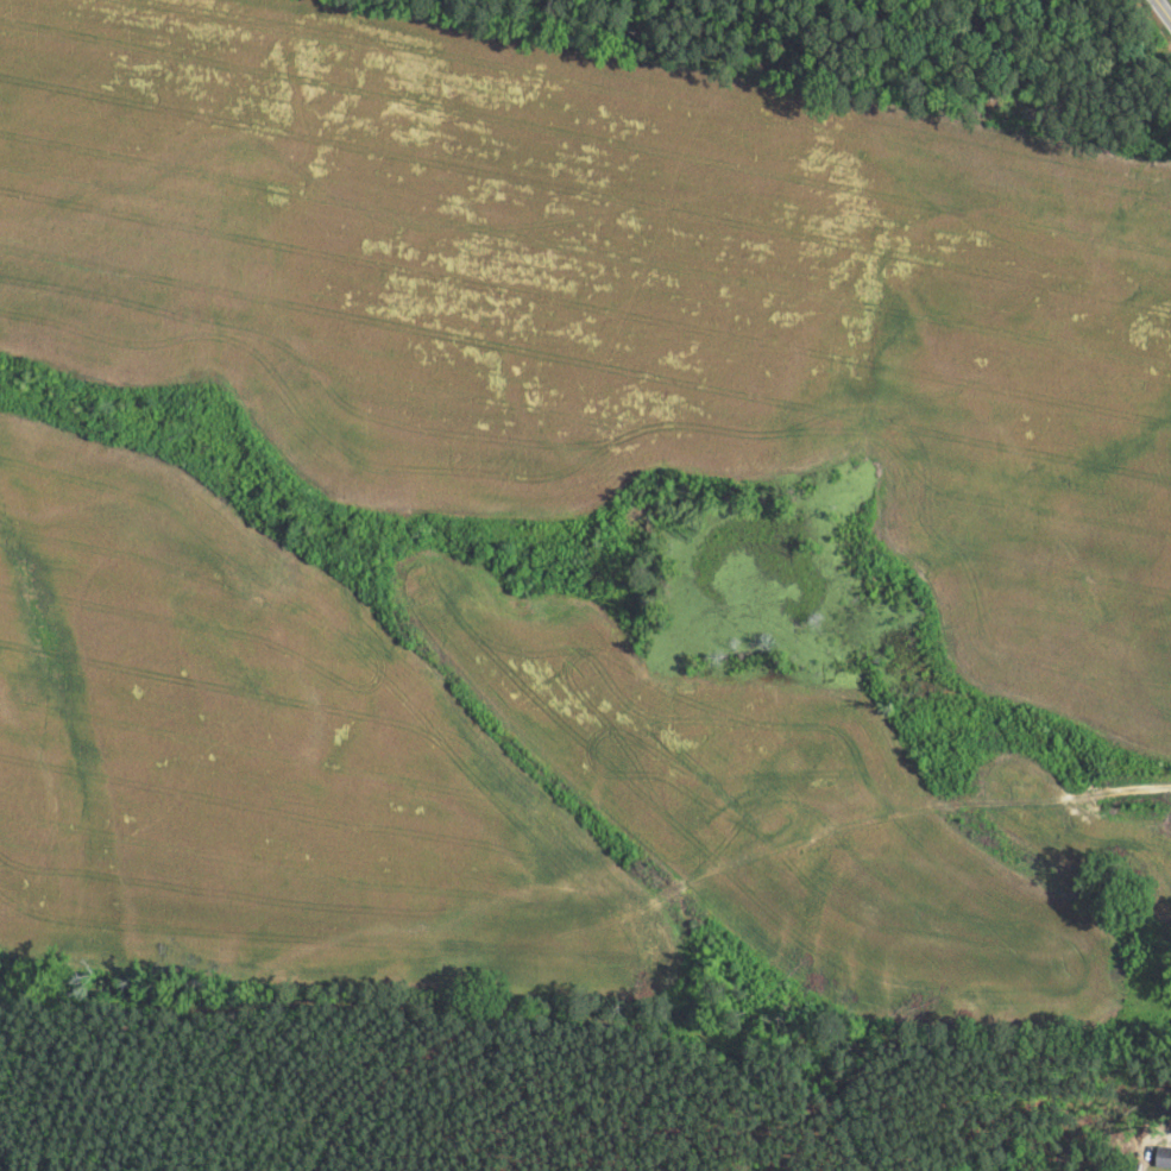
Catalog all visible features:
road: (1165, 7)
building: (788, 756)
building: (846, 782)
building: (720, 792)
road: (1012, 806)
building: (766, 823)
building: (1160, 1157)
building: (1119, 1166)

